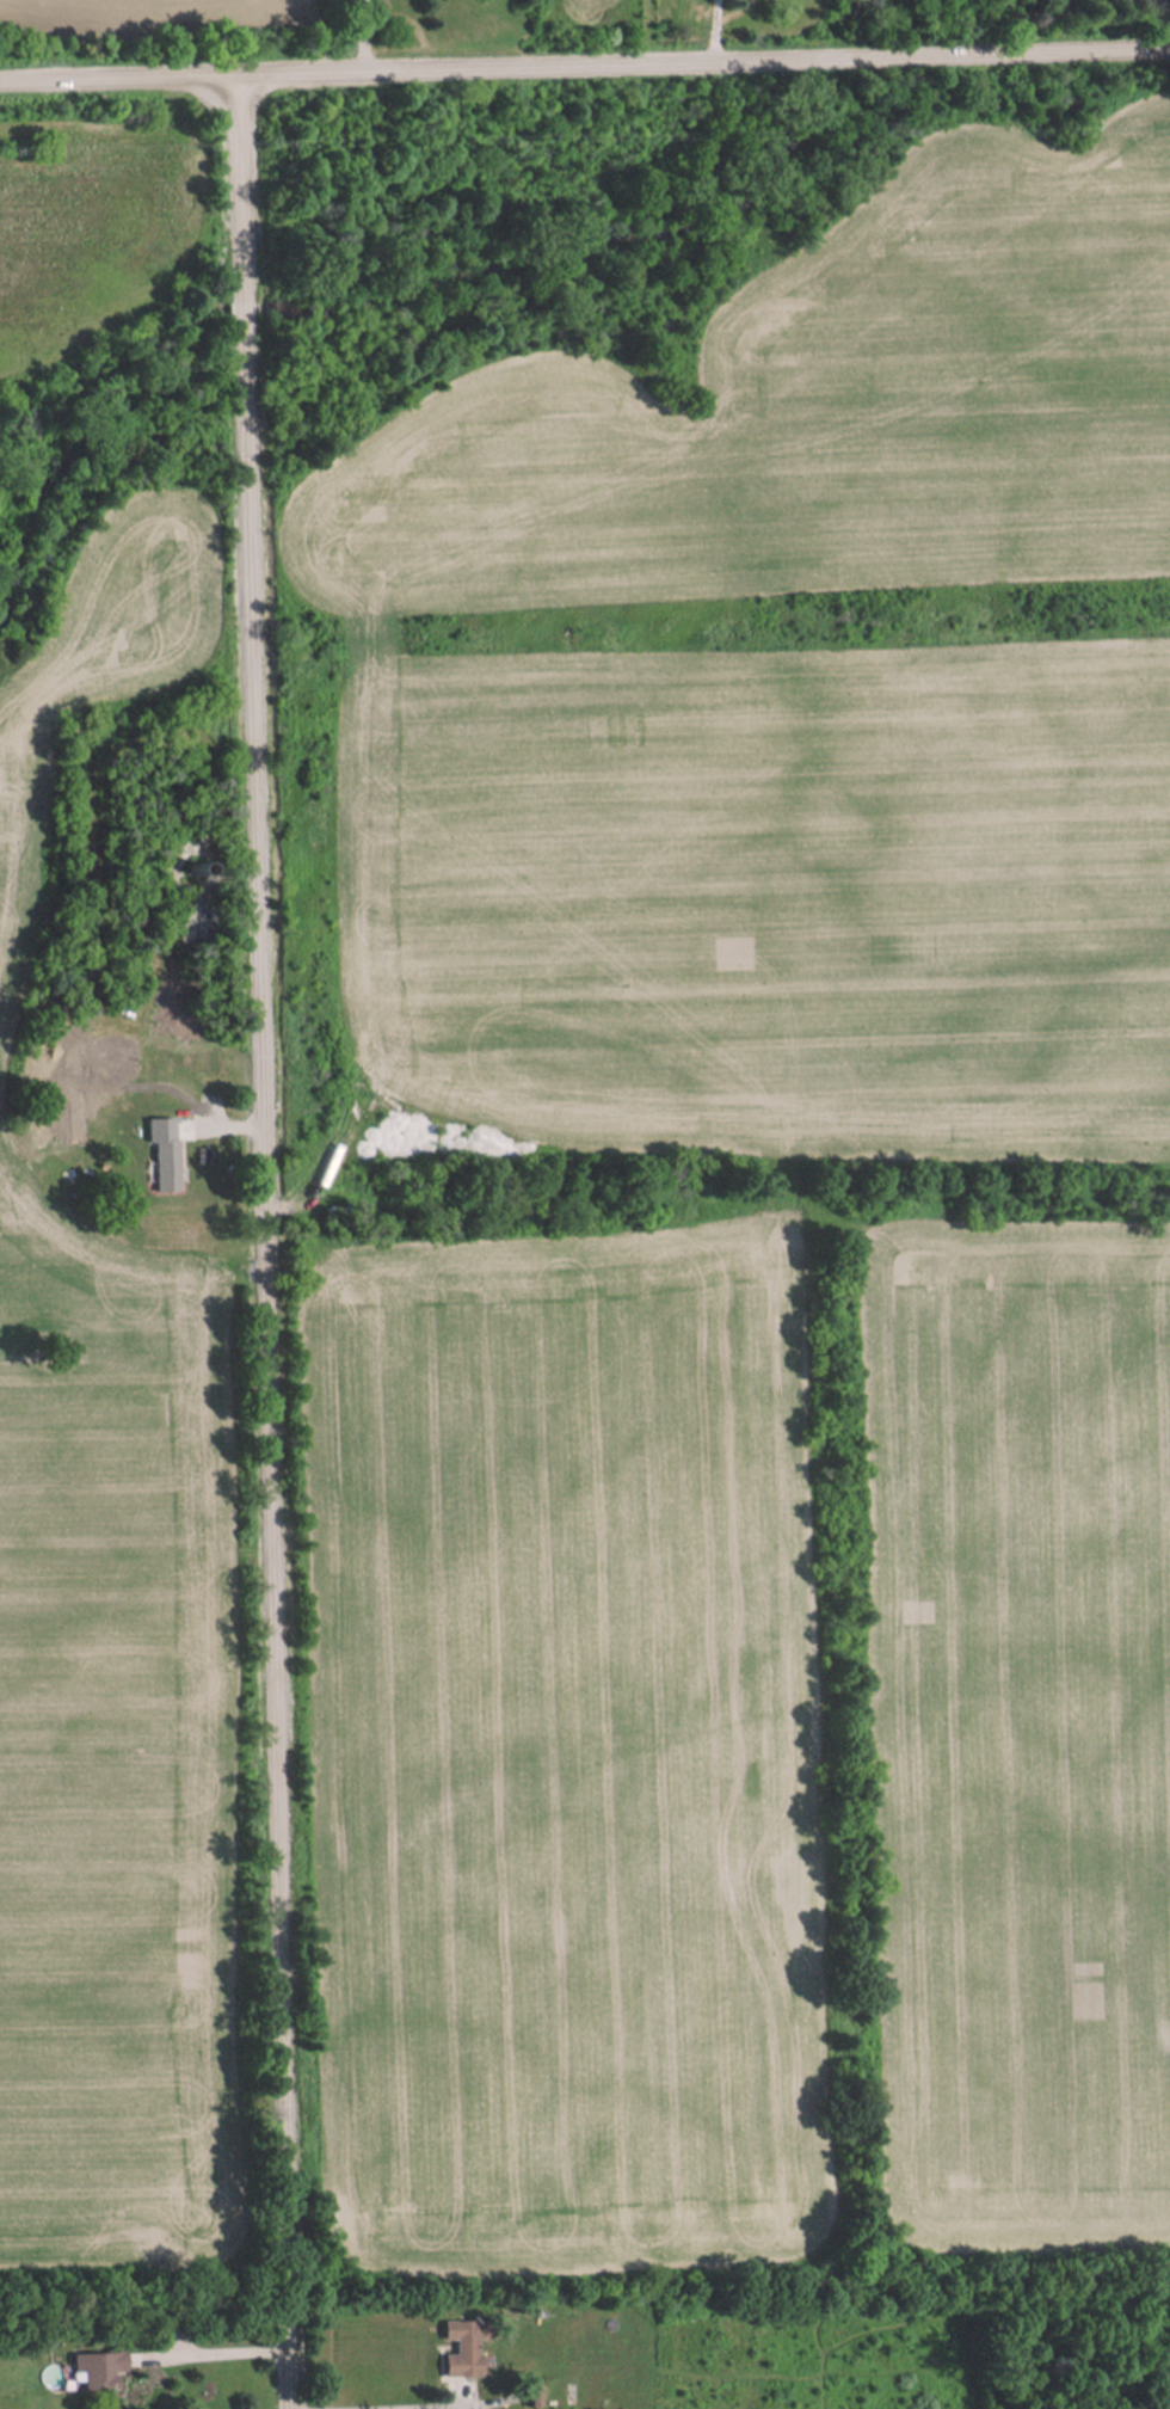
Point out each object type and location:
road: (718, 30)
road: (585, 64)
building: (76, 1118)
building: (167, 1155)
road: (269, 1243)
road: (214, 2342)
building: (462, 2346)
building: (100, 2370)
road: (382, 2401)

